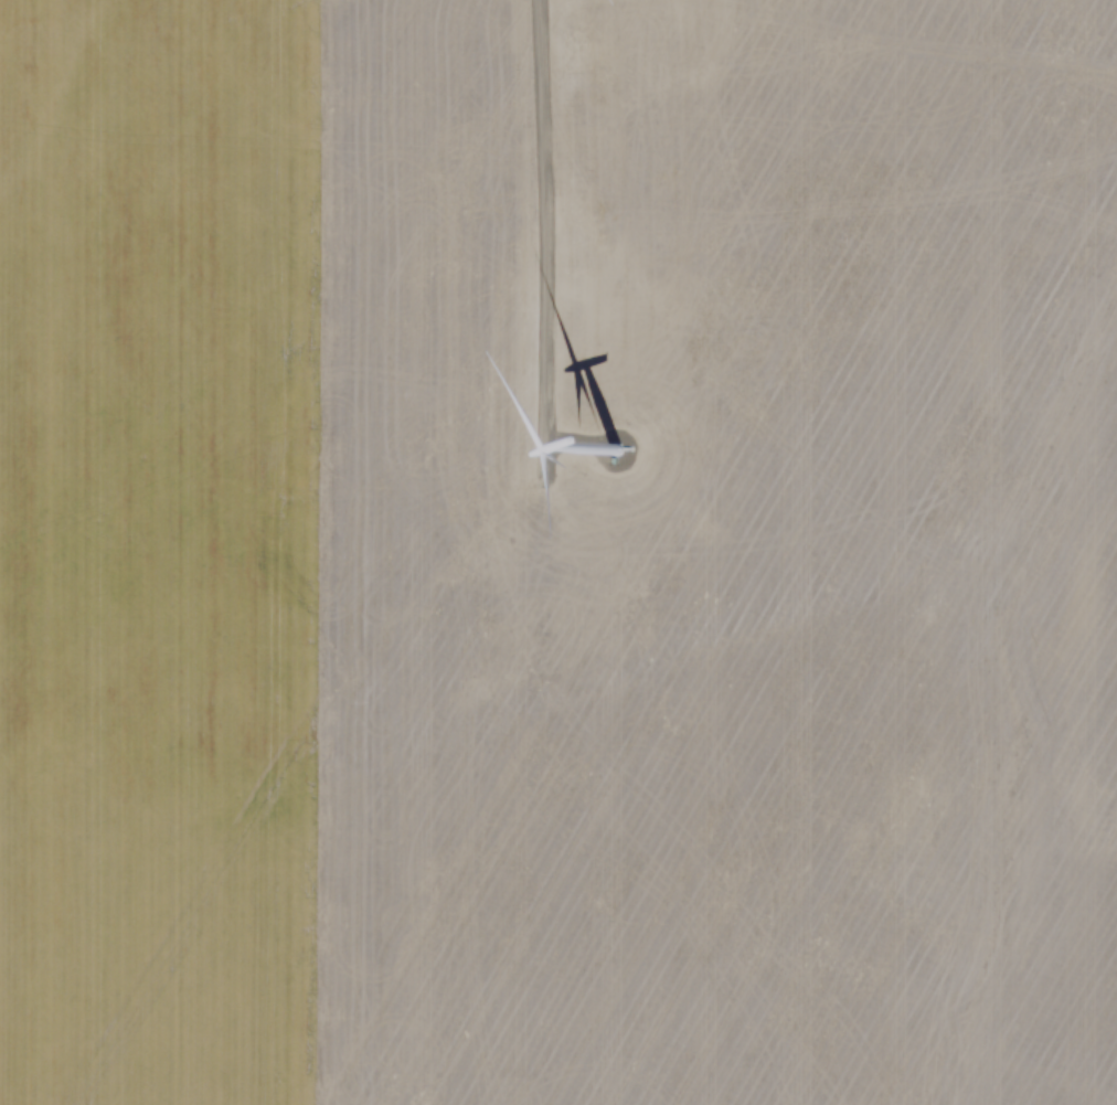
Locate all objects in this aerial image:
road: (536, 231)
wind turbine: (607, 445)

